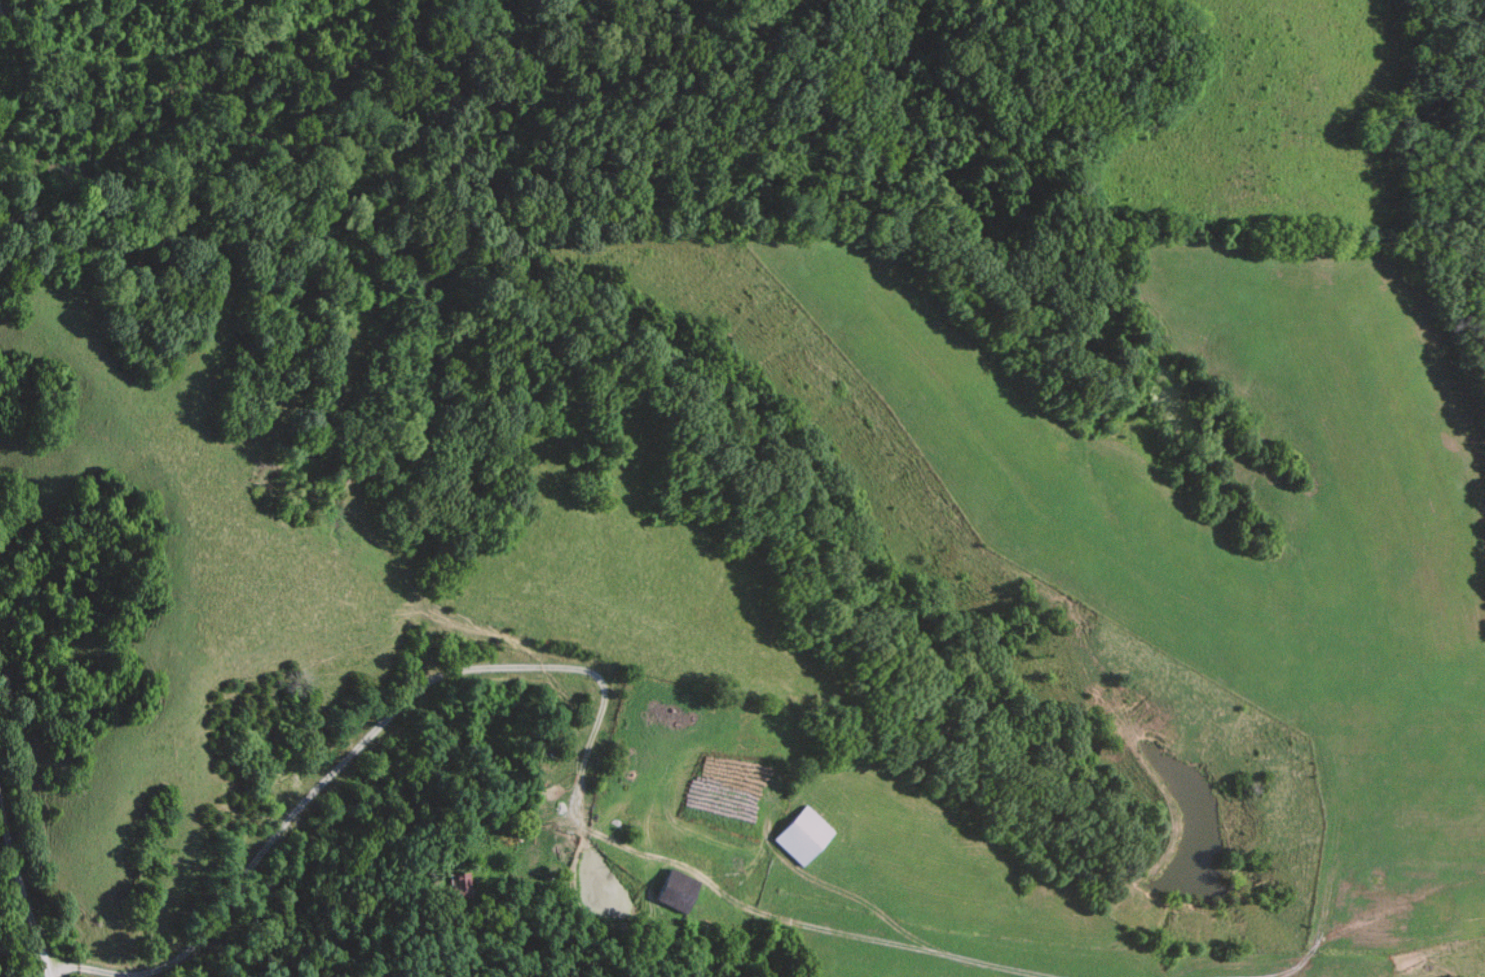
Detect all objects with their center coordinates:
road: (602, 705)
building: (802, 837)
building: (459, 885)
building: (679, 892)
road: (23, 894)
road: (1309, 946)
road: (77, 967)

